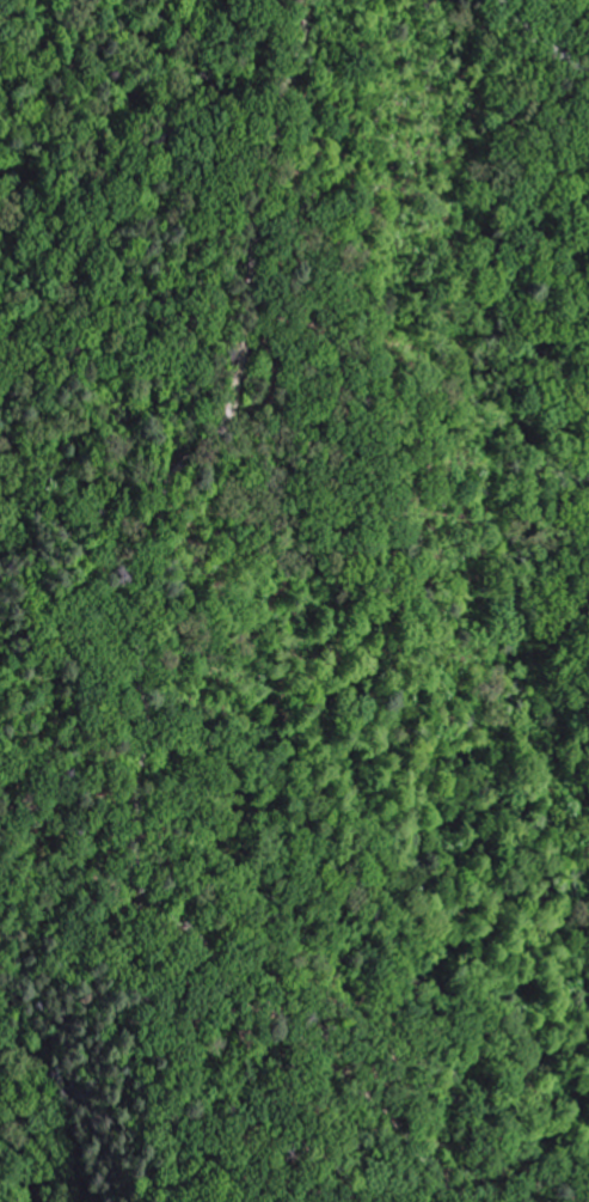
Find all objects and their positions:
road: (538, 41)

